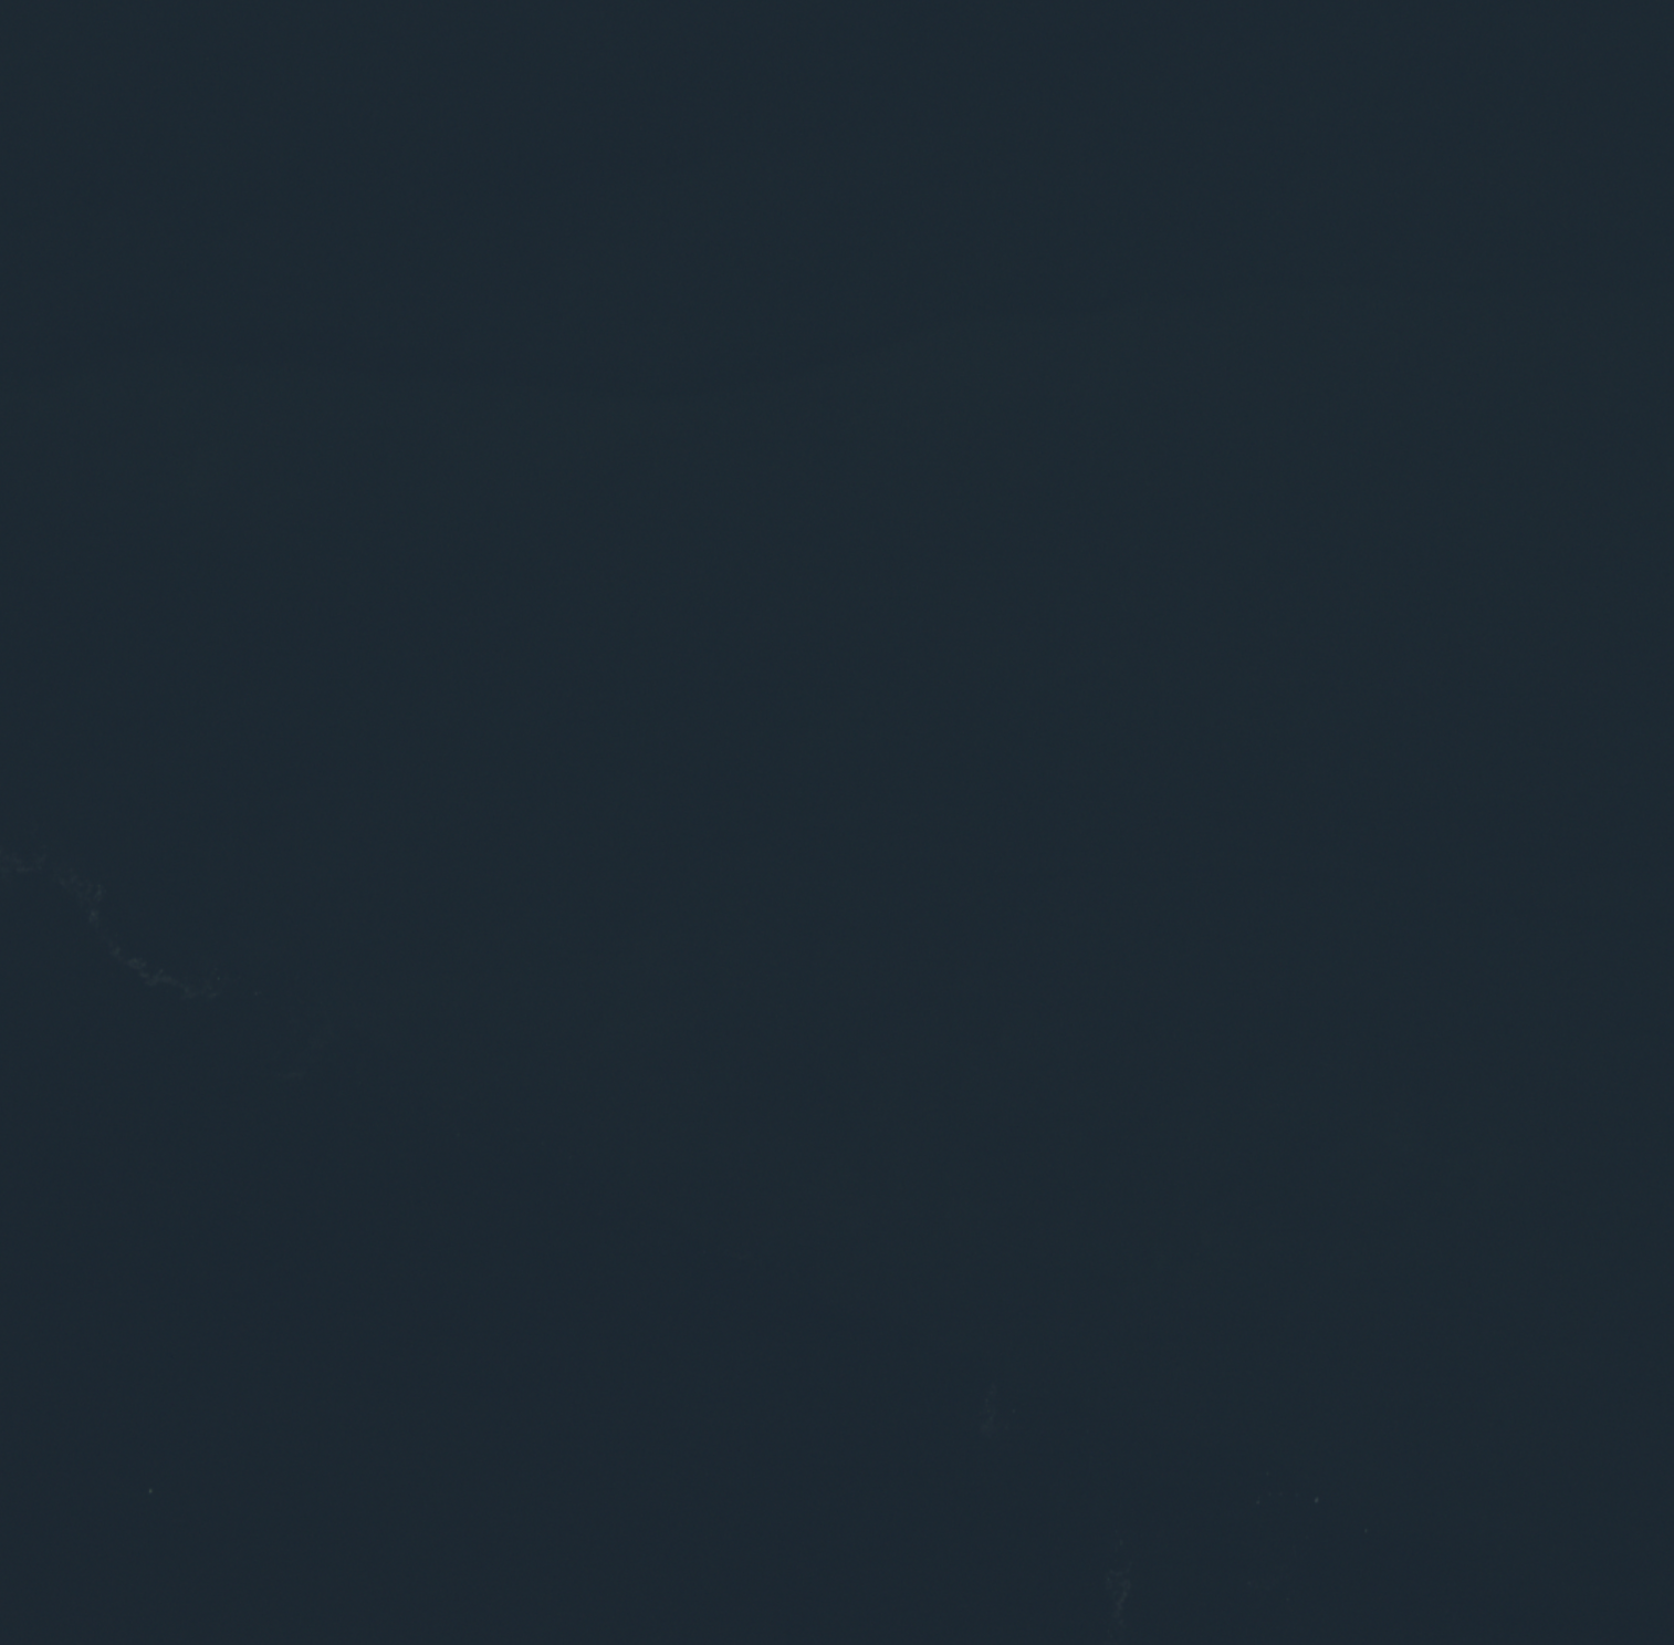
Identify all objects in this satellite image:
river: (824, 1068)

